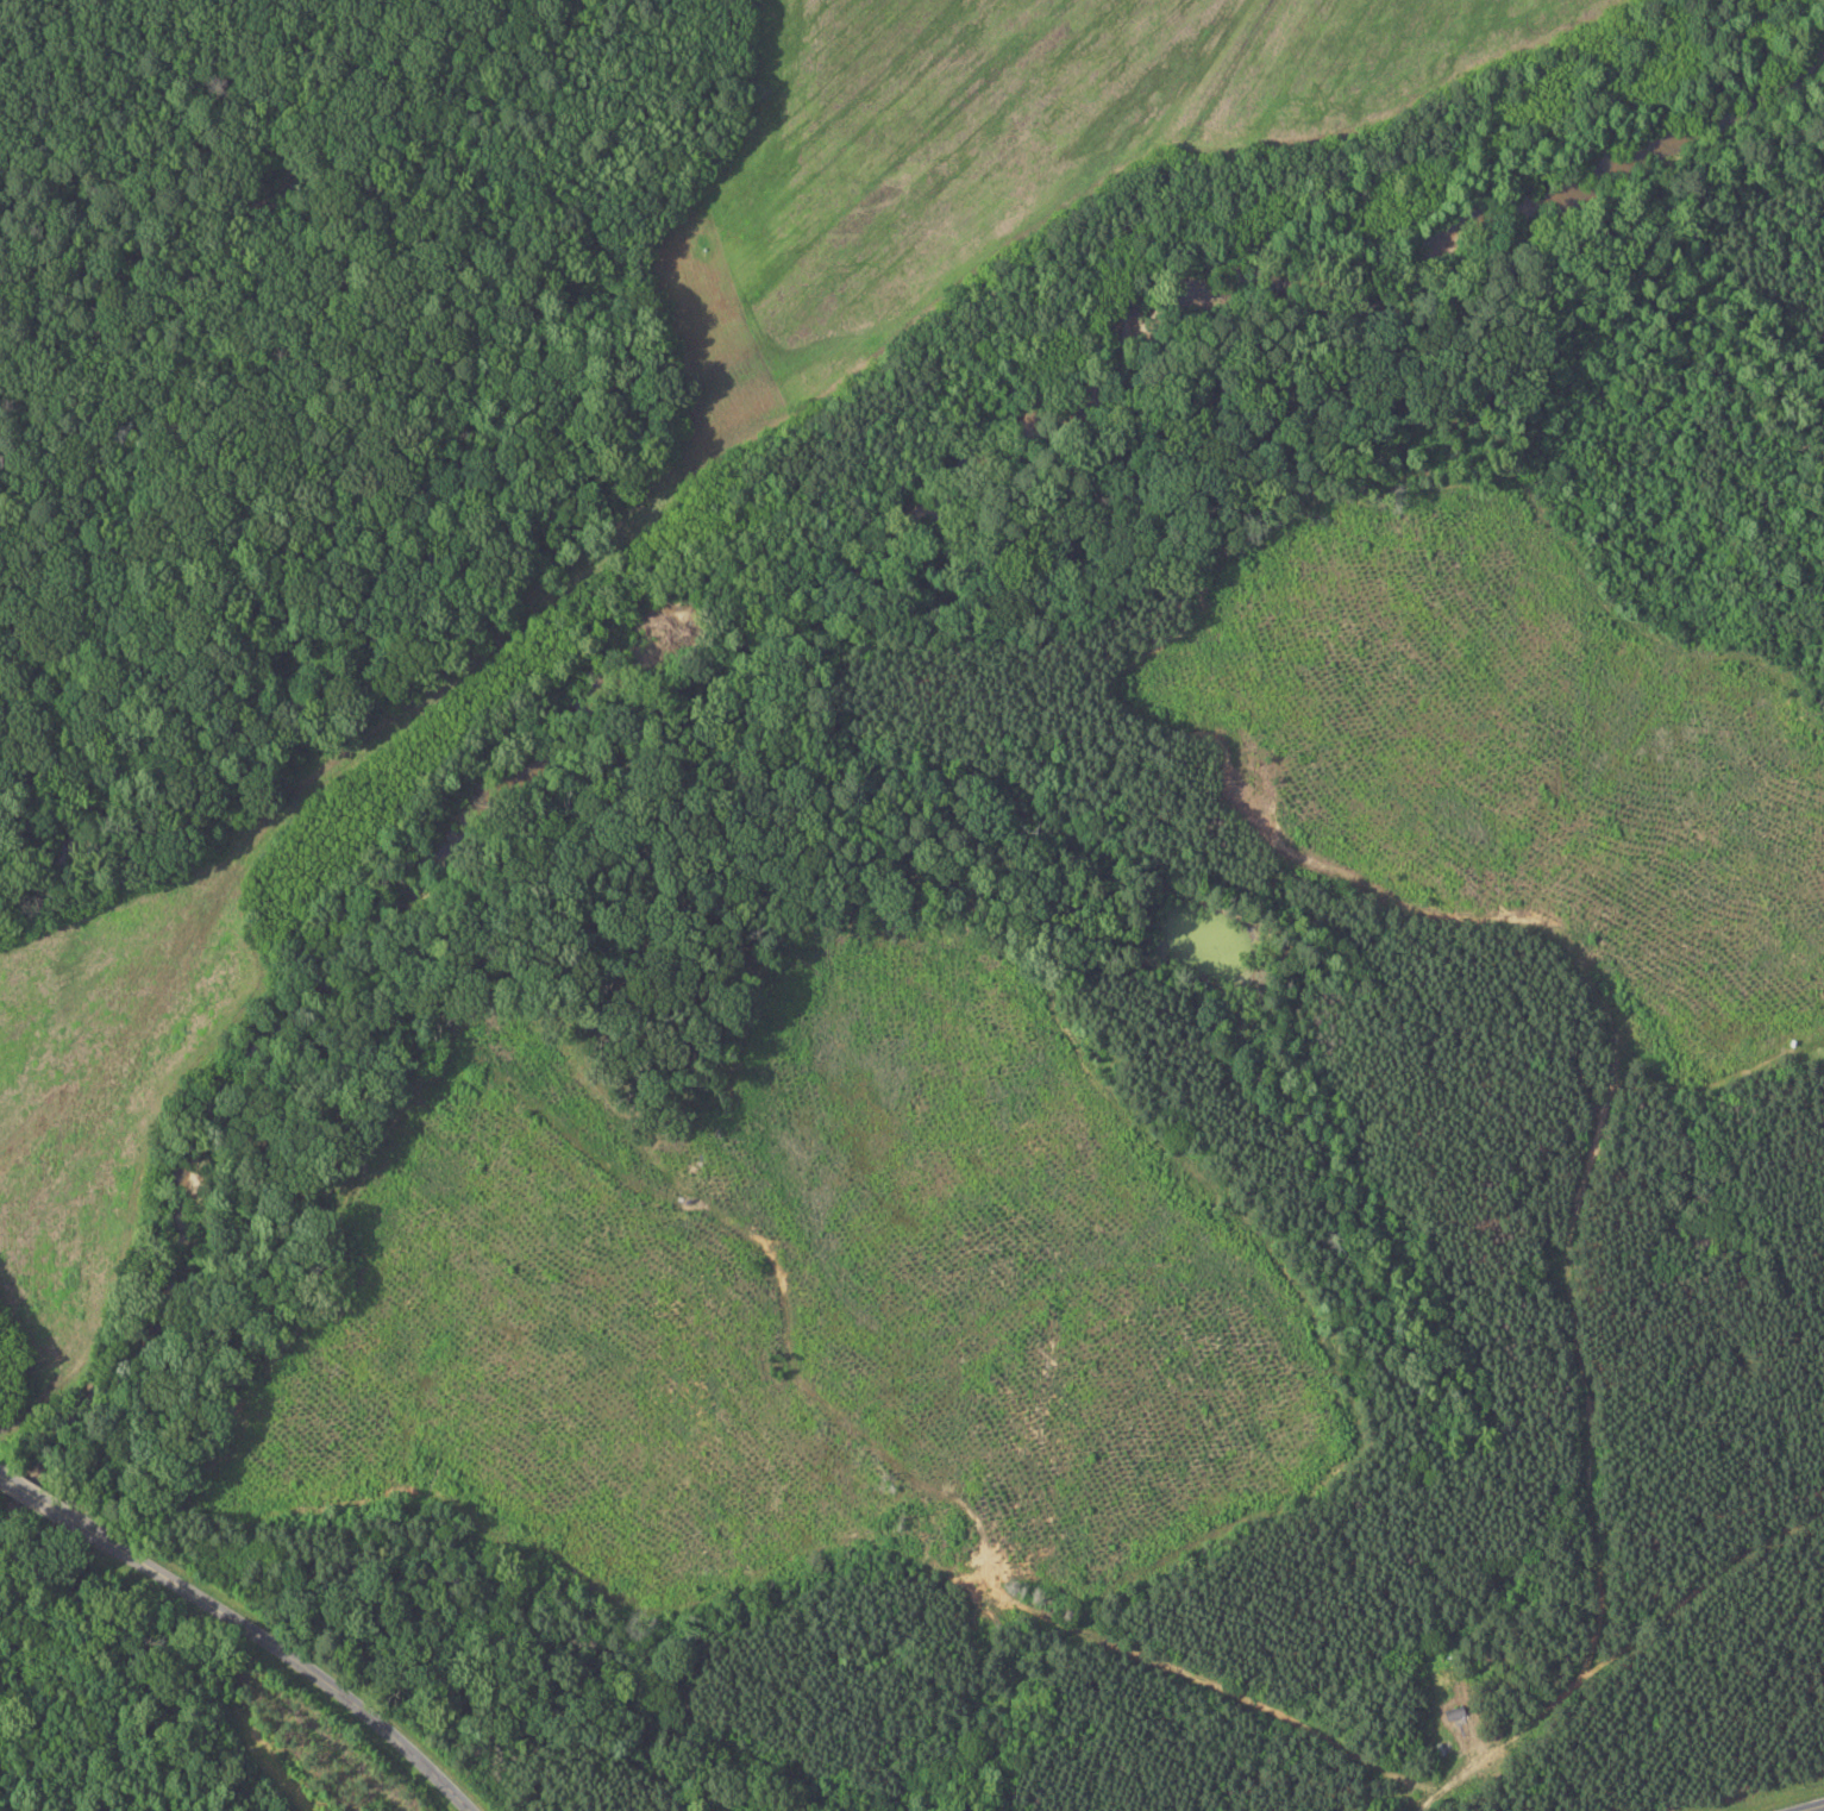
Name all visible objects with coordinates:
road: (247, 1628)
road: (1809, 1806)

